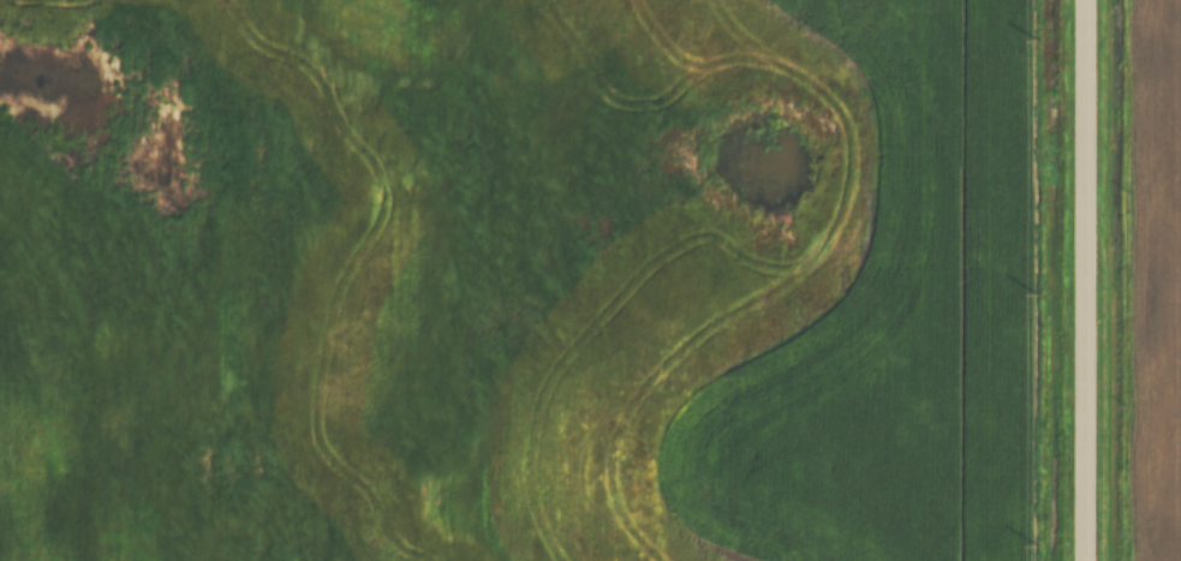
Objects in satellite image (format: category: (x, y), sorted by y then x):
road: (1090, 280)

